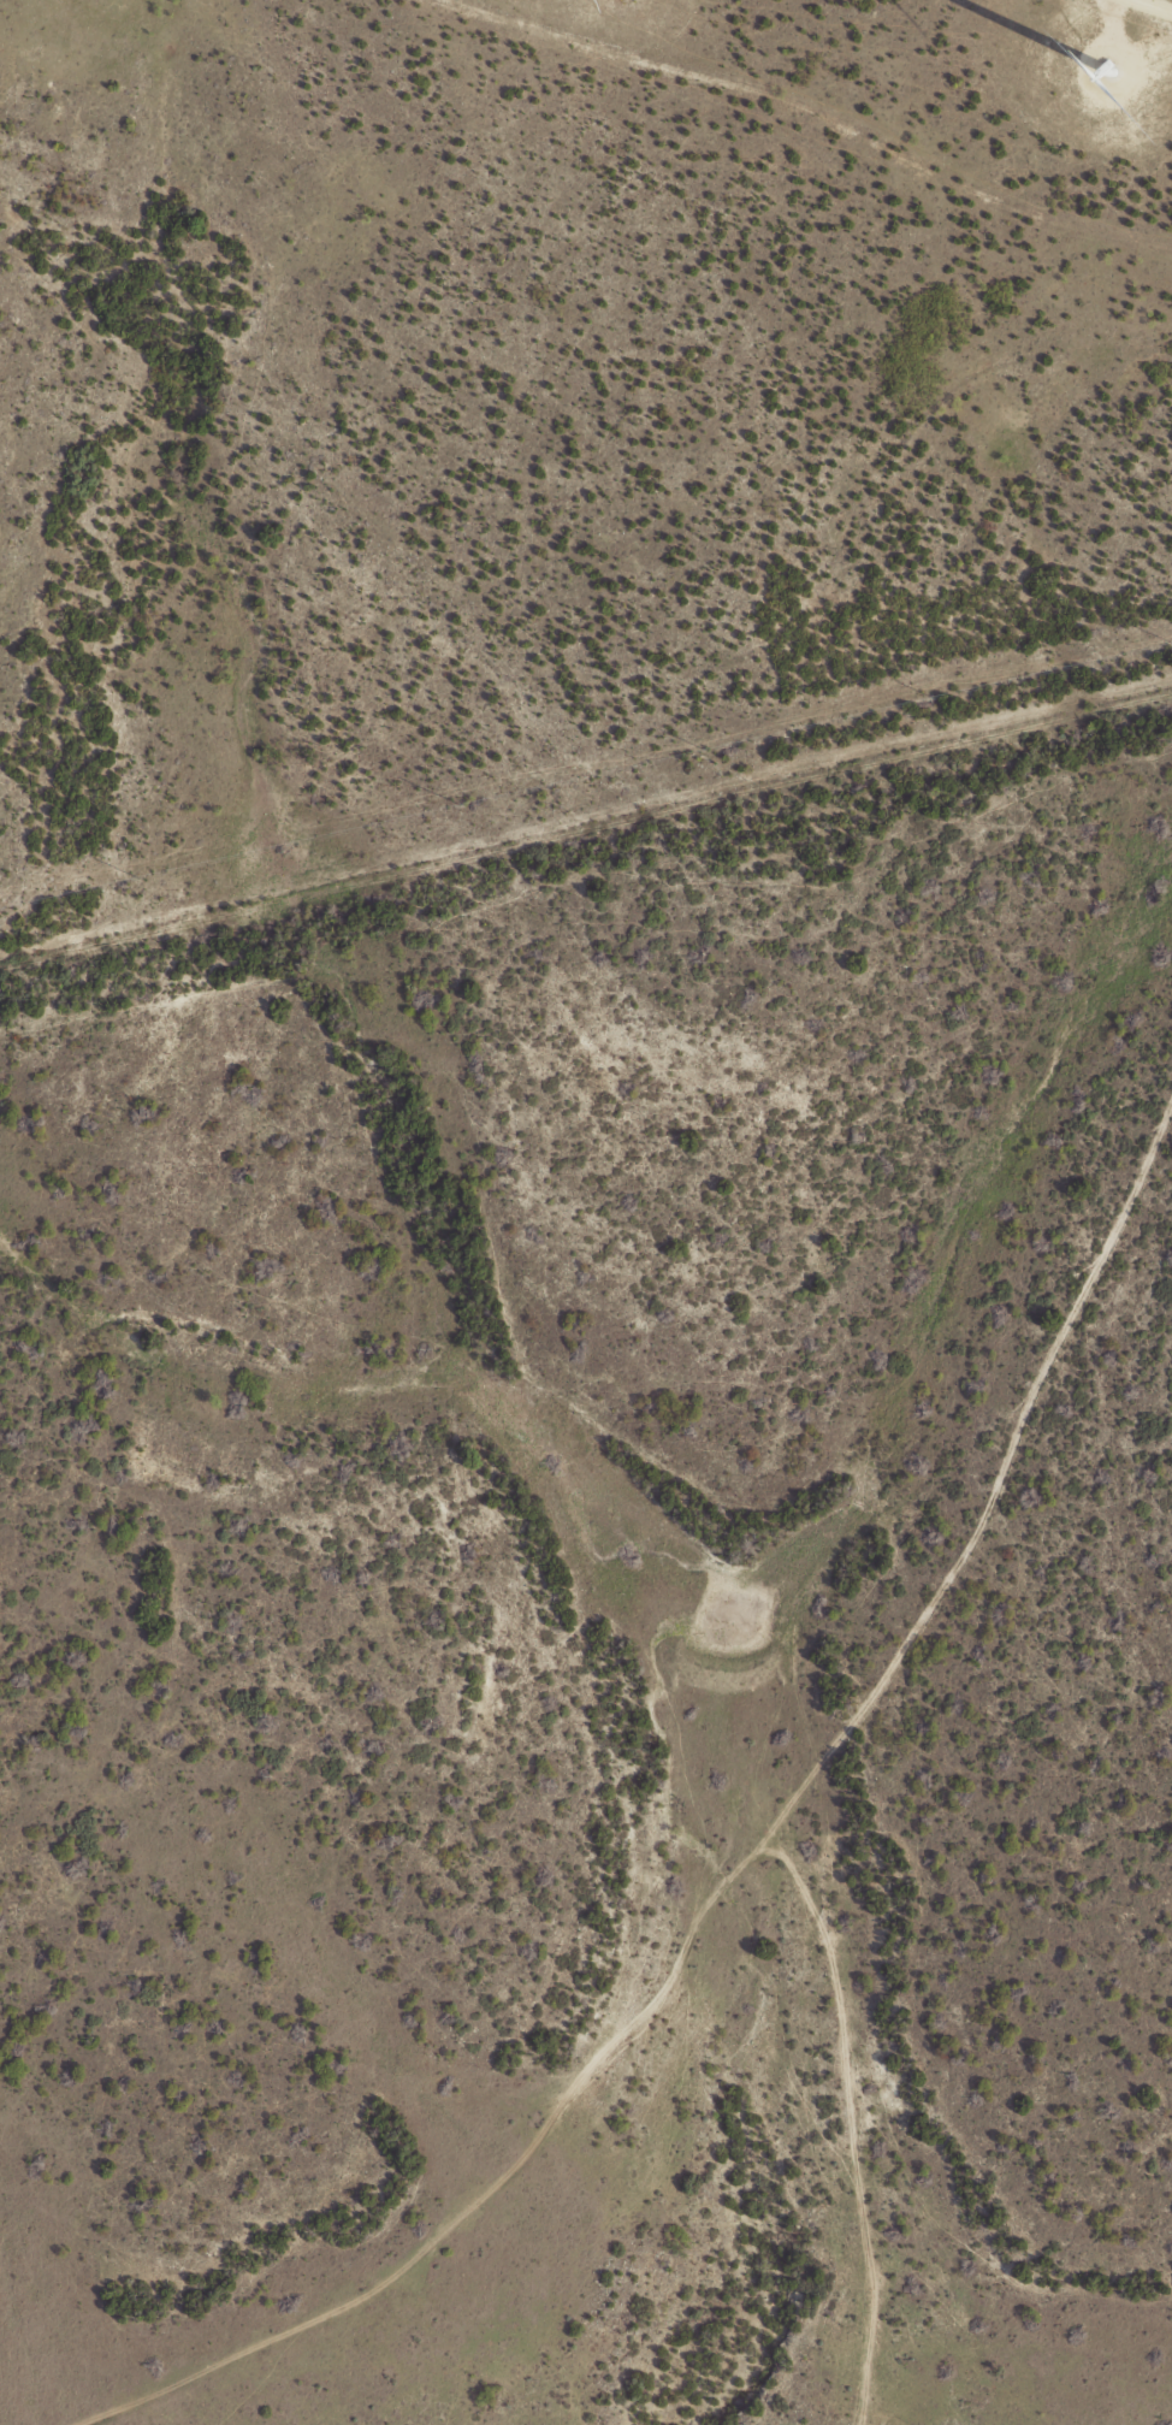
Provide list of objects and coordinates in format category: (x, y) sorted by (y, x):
road: (1153, 6)
wind turbine: (1109, 71)

